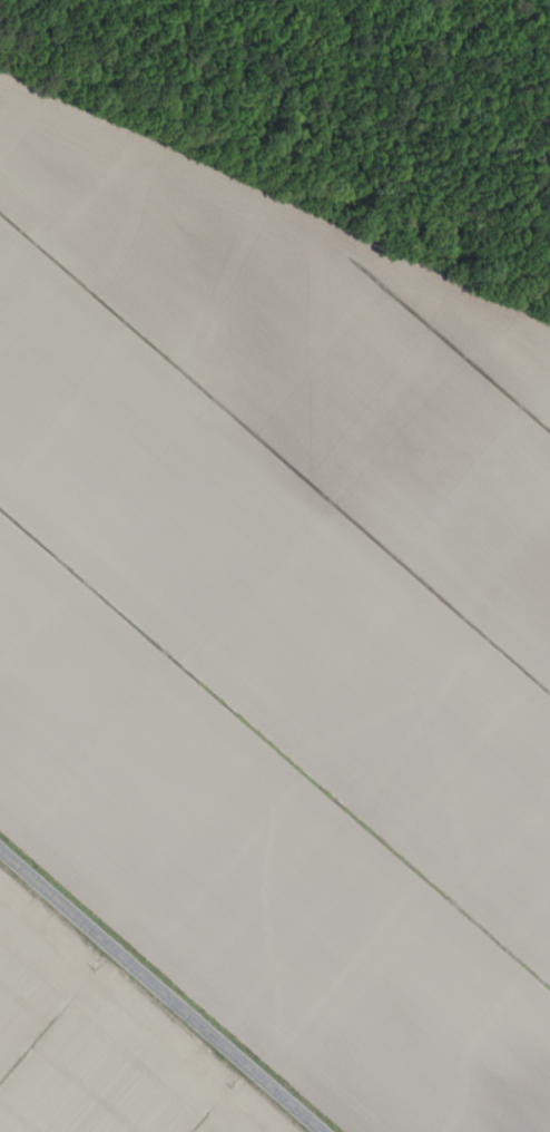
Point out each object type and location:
road: (159, 992)
road: (258, 1113)

